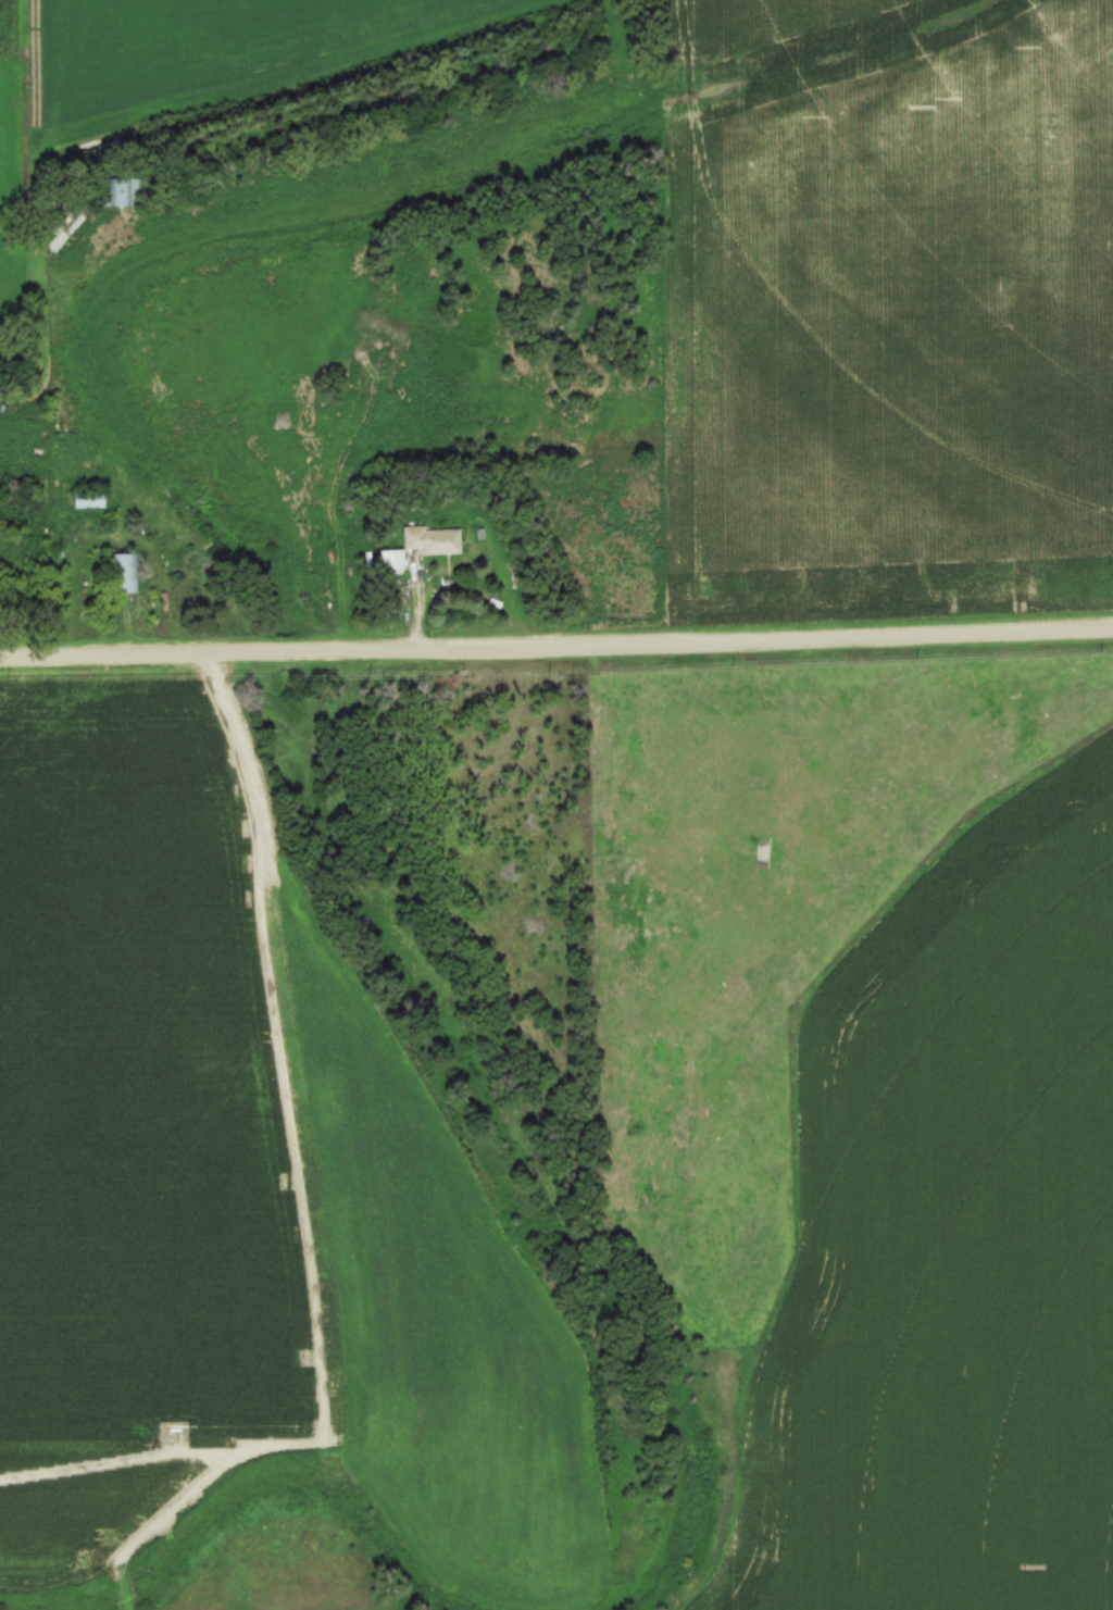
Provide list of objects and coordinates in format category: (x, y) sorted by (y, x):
crop: (183, 72)
building: (120, 189)
crop: (889, 303)
building: (90, 498)
building: (432, 539)
road: (112, 540)
building: (389, 559)
building: (124, 573)
road: (462, 587)
road: (556, 642)
crop: (875, 1107)
crop: (237, 1191)

